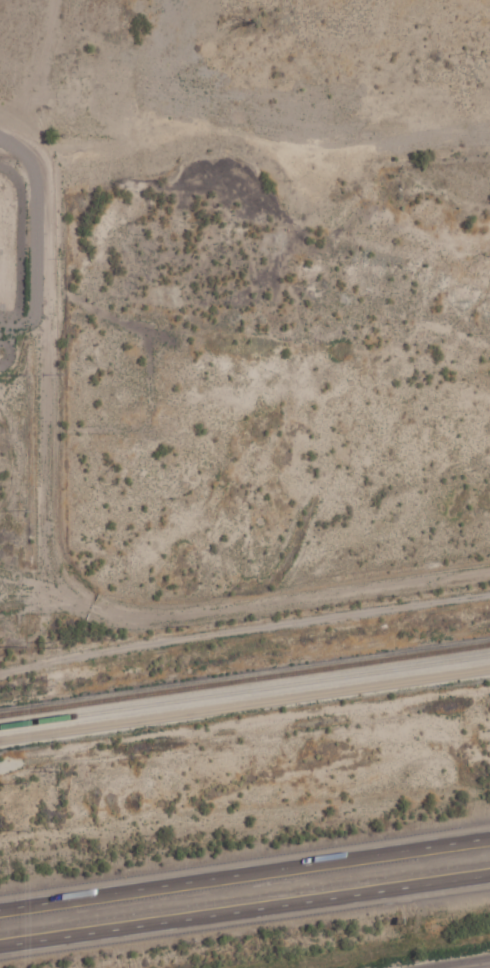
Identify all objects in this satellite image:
road: (54, 478)
railway: (244, 676)
railway: (245, 690)
road: (244, 738)
road: (245, 873)
road: (245, 912)
road: (482, 967)

